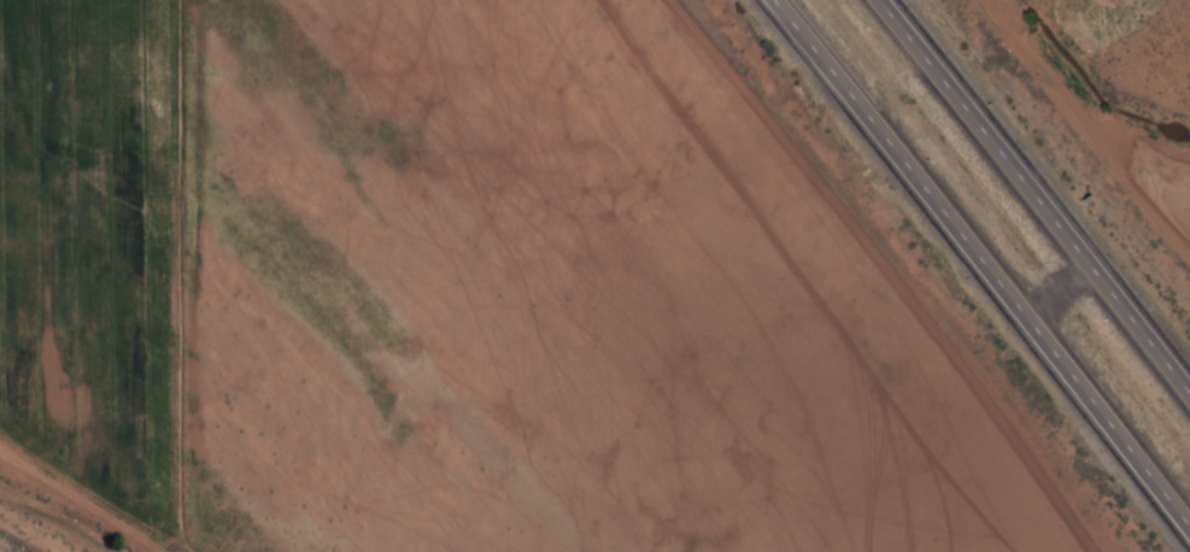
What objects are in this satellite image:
road: (1036, 192)
road: (993, 258)

